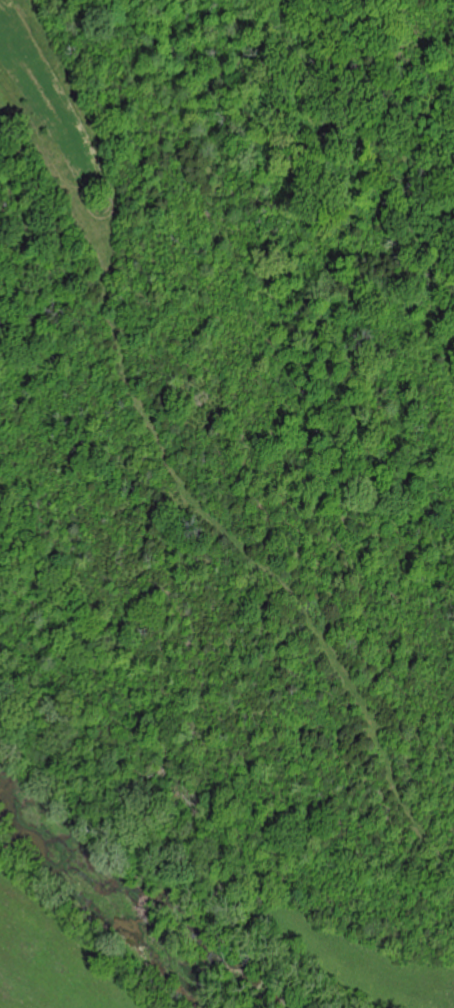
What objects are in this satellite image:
road: (233, 507)

